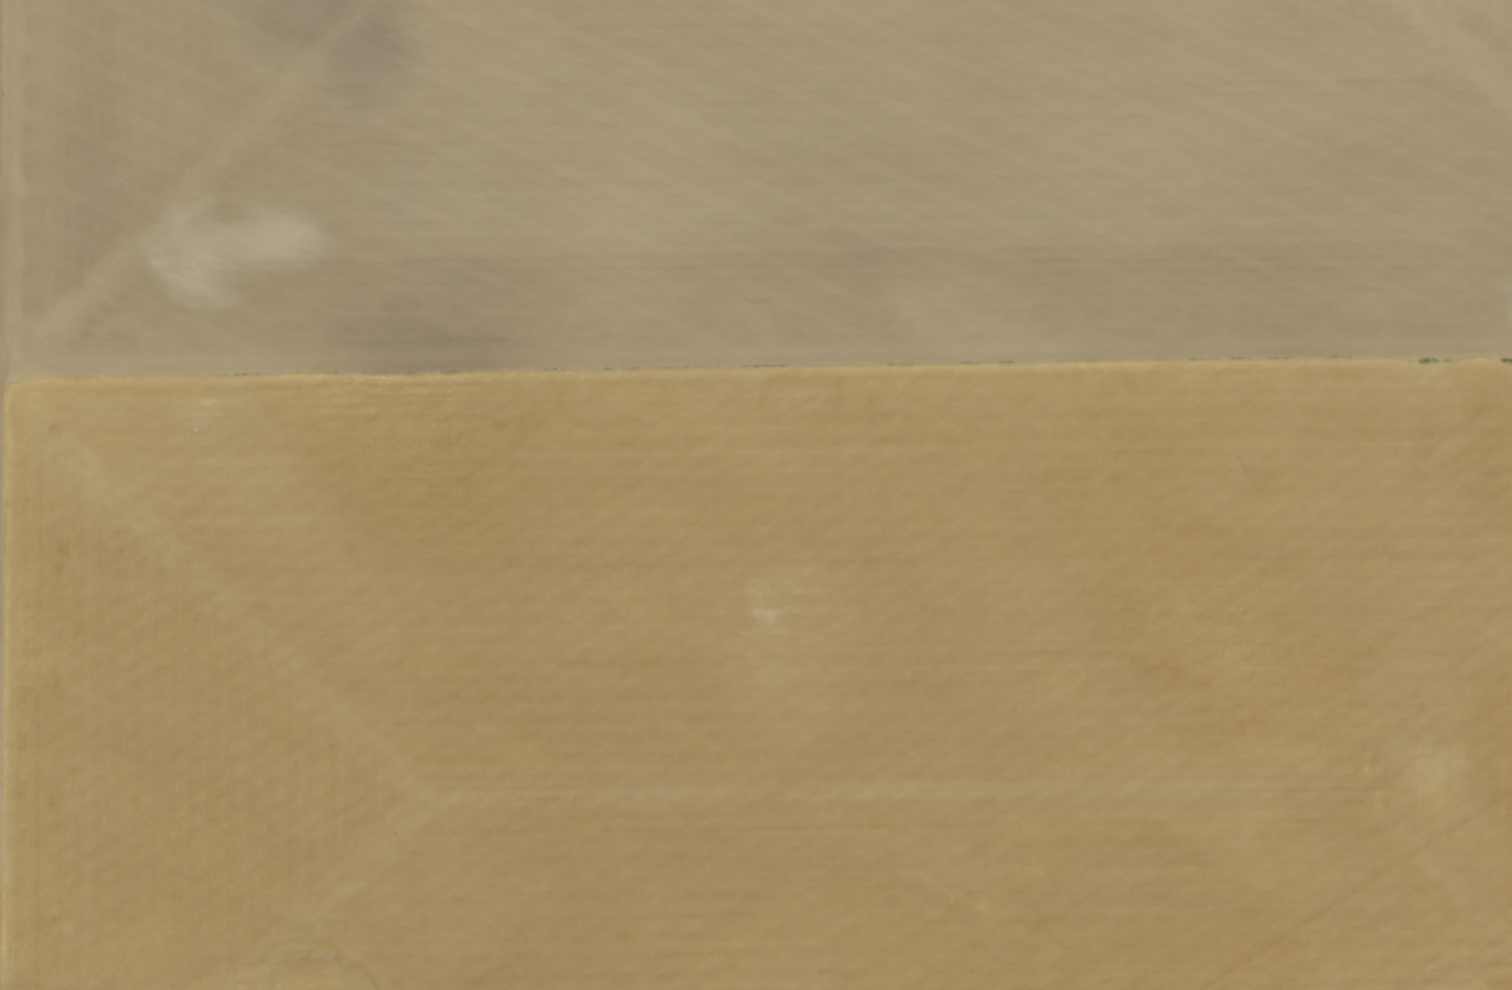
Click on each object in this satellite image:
crop: (756, 495)

